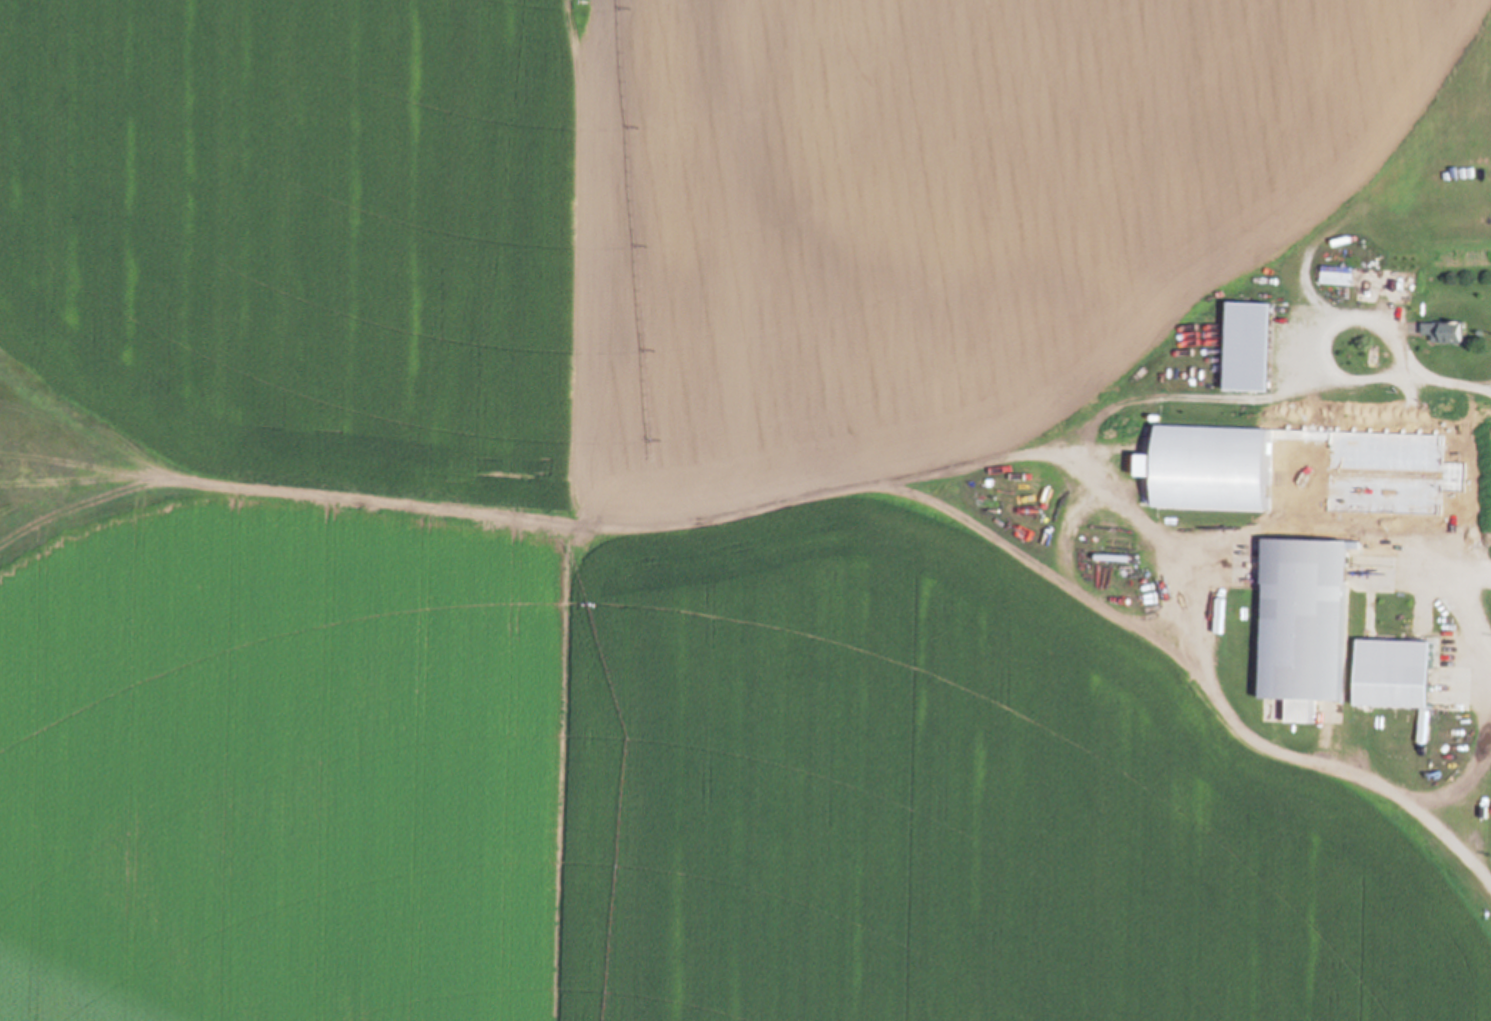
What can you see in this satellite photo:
building: (1339, 275)
building: (1449, 332)
road: (1415, 375)
building: (1203, 456)
building: (1386, 496)
road: (1421, 500)
crop: (745, 510)
road: (678, 523)
building: (1309, 626)
road: (1191, 646)
building: (1398, 673)
road: (1462, 763)

